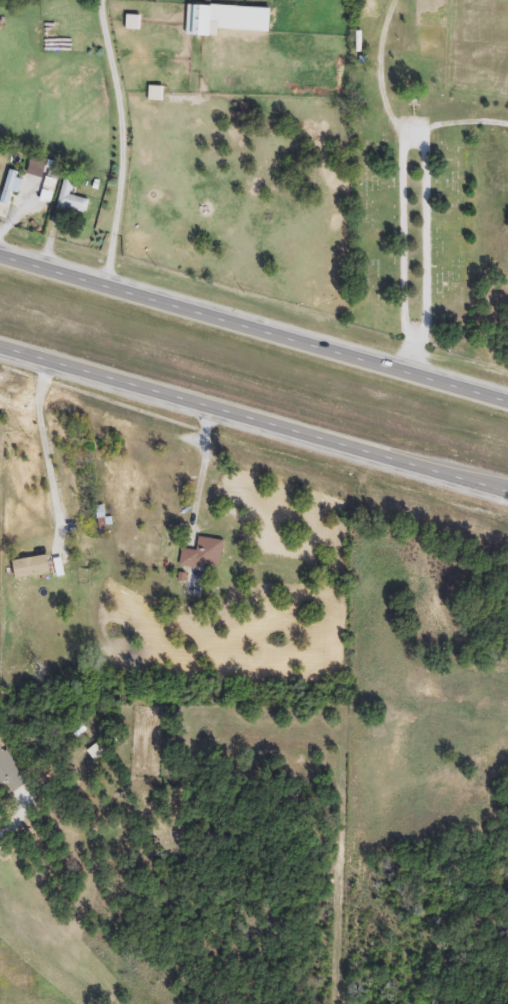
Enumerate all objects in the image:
building: (200, 20)
road: (380, 66)
building: (156, 94)
road: (466, 122)
road: (118, 141)
park: (429, 169)
building: (11, 186)
building: (71, 199)
road: (253, 326)
road: (424, 327)
road: (415, 353)
road: (253, 425)
road: (43, 447)
building: (204, 554)
building: (33, 568)
building: (9, 769)

